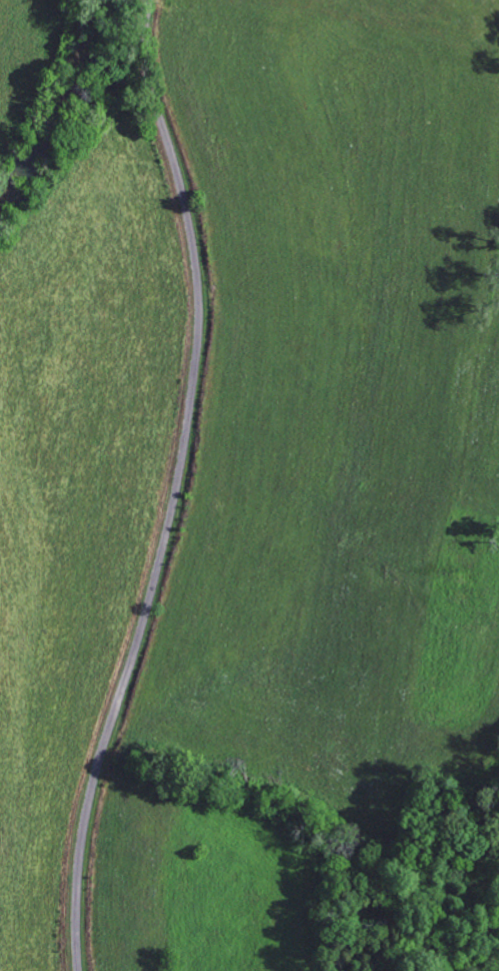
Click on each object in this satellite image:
road: (177, 487)

